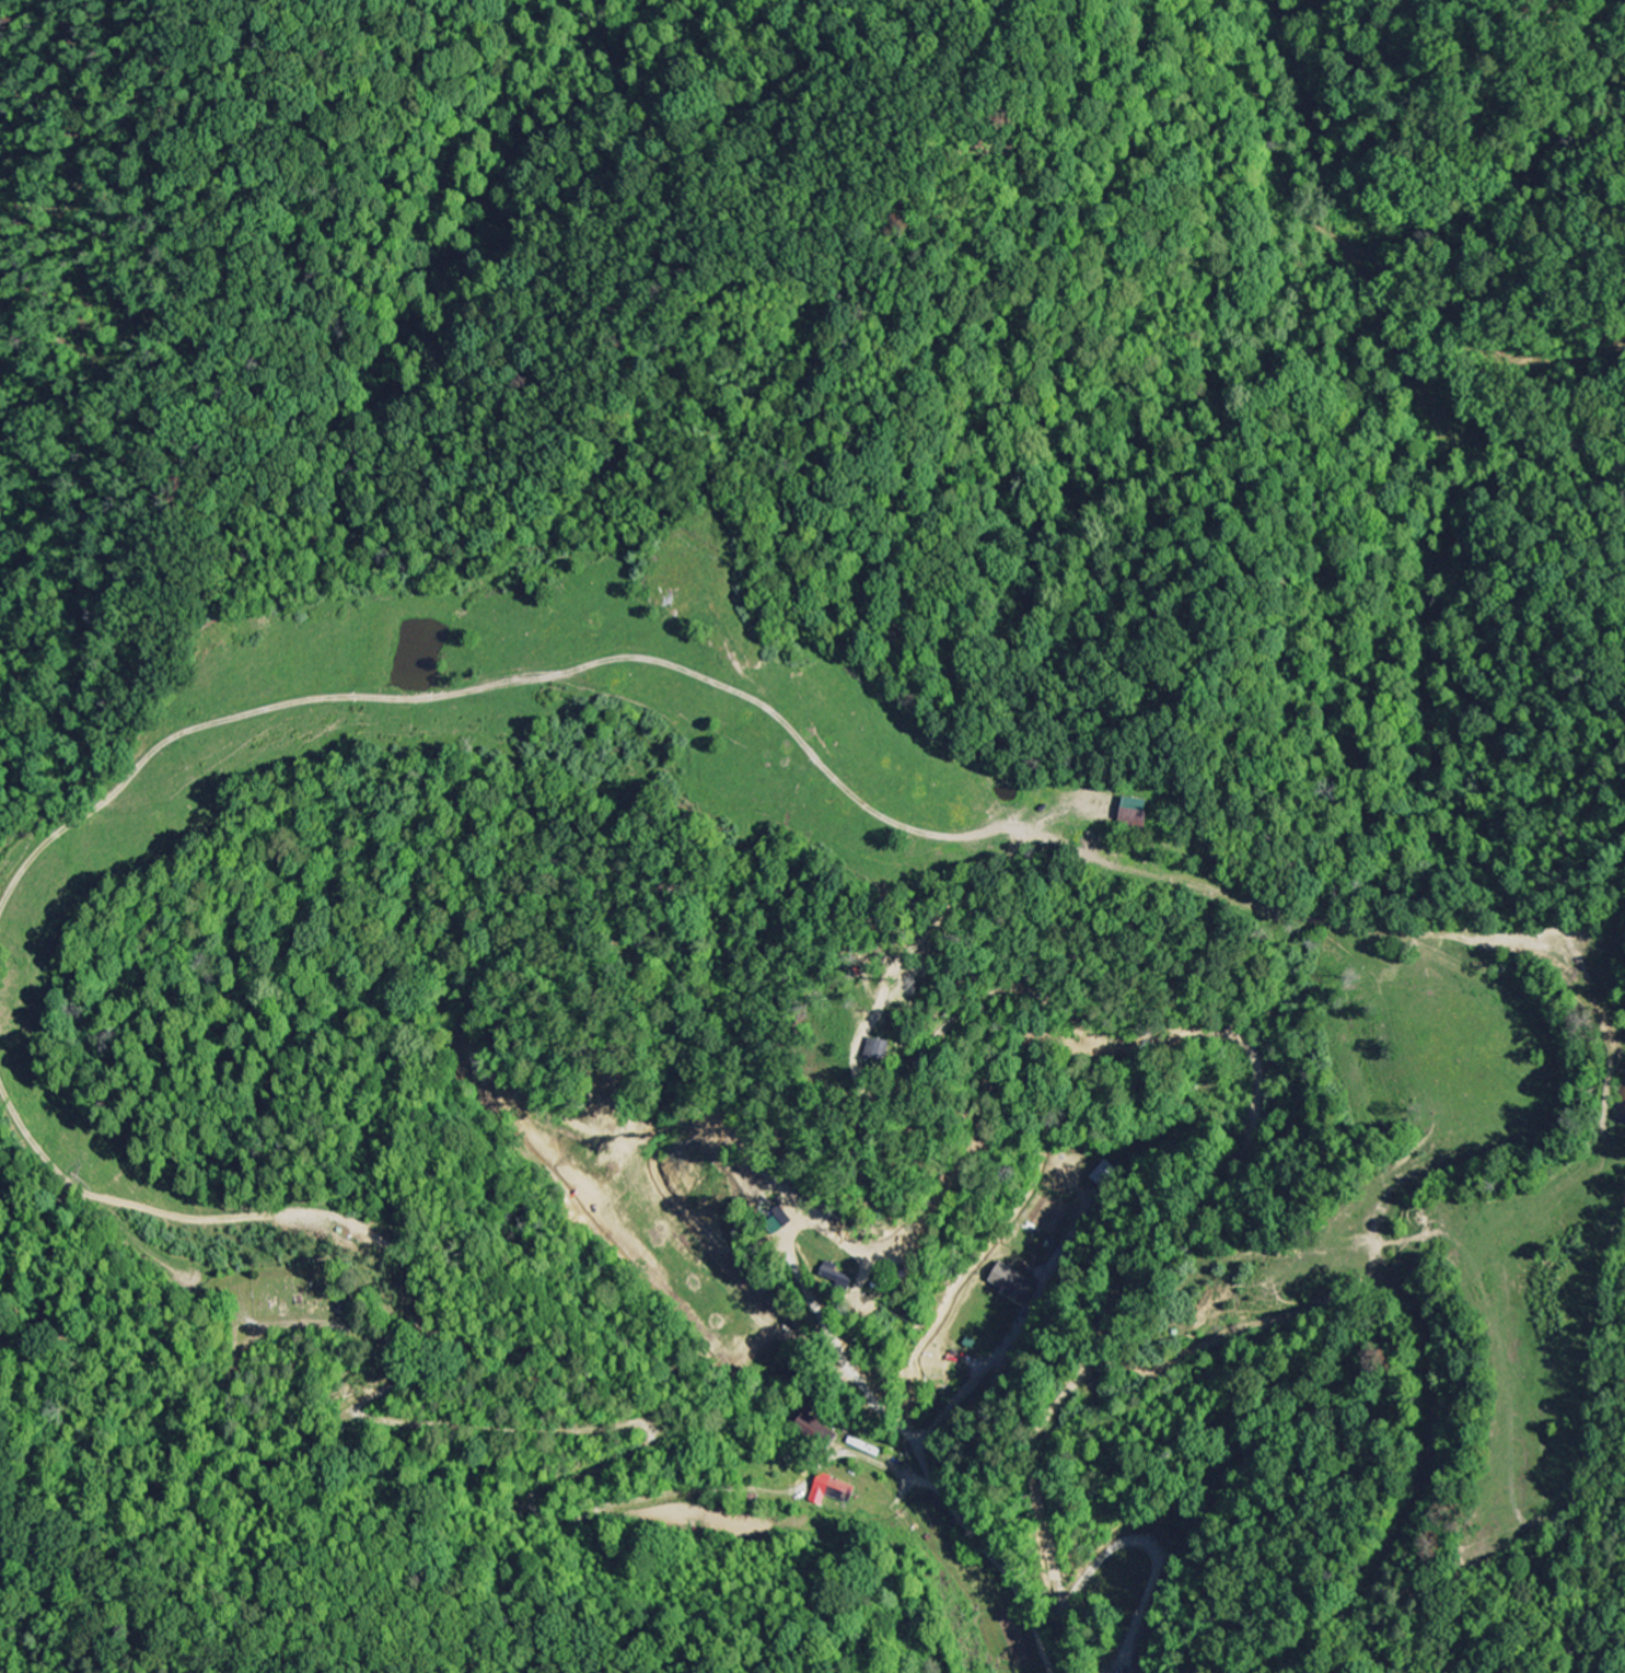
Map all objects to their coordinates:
building: (1141, 811)
building: (881, 1049)
building: (777, 1228)
building: (840, 1277)
building: (1015, 1283)
building: (834, 1491)
road: (1055, 1561)

